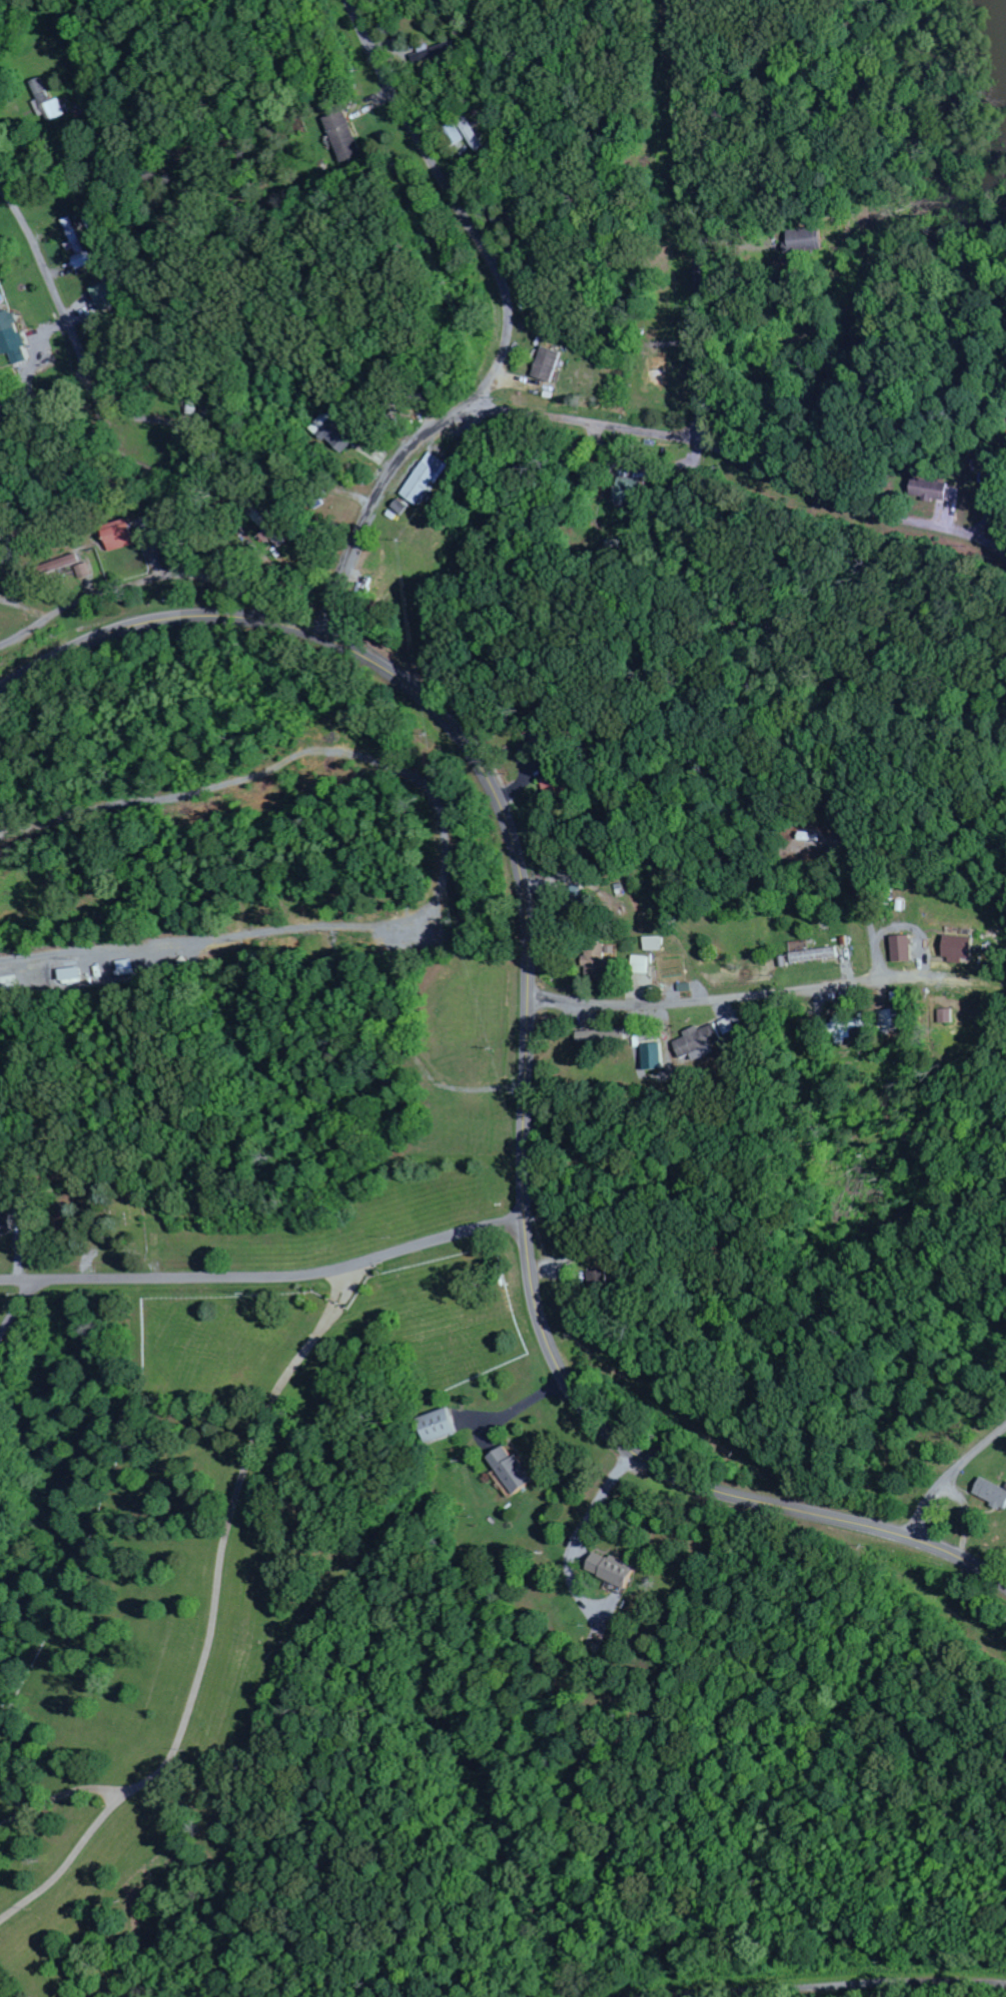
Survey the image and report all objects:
building: (436, 51)
building: (48, 100)
building: (342, 133)
building: (455, 134)
building: (474, 134)
road: (28, 157)
road: (689, 220)
building: (74, 236)
building: (83, 260)
road: (49, 280)
building: (107, 294)
road: (508, 330)
building: (9, 334)
building: (548, 364)
road: (91, 393)
road: (43, 397)
road: (180, 423)
building: (334, 433)
road: (744, 454)
building: (427, 479)
building: (937, 491)
building: (629, 494)
building: (119, 538)
building: (73, 561)
building: (84, 571)
road: (134, 588)
road: (798, 686)
building: (656, 944)
building: (904, 949)
building: (960, 949)
building: (812, 953)
building: (594, 963)
road: (928, 964)
building: (643, 965)
building: (72, 976)
road: (705, 999)
building: (949, 1016)
building: (888, 1020)
building: (846, 1029)
building: (698, 1045)
road: (528, 1046)
building: (654, 1057)
building: (4, 1221)
road: (899, 1221)
road: (289, 1274)
road: (20, 1278)
road: (20, 1311)
road: (193, 1315)
building: (436, 1426)
building: (512, 1470)
road: (953, 1479)
building: (991, 1493)
road: (578, 1533)
building: (611, 1569)
road: (837, 1987)

